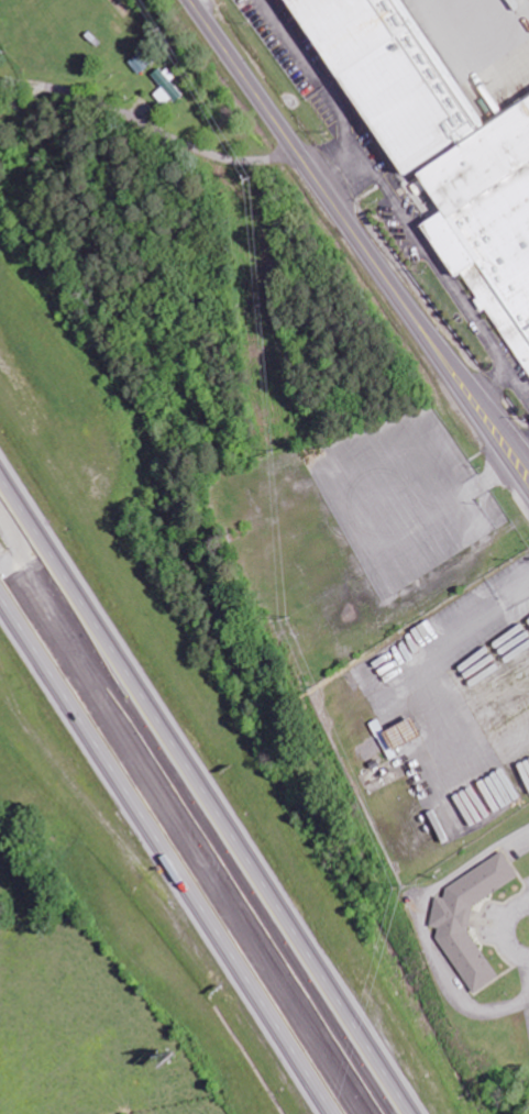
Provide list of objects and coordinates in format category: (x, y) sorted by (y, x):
building: (166, 87)
building: (440, 147)
road: (359, 240)
road: (201, 801)
road: (173, 846)
building: (470, 918)

